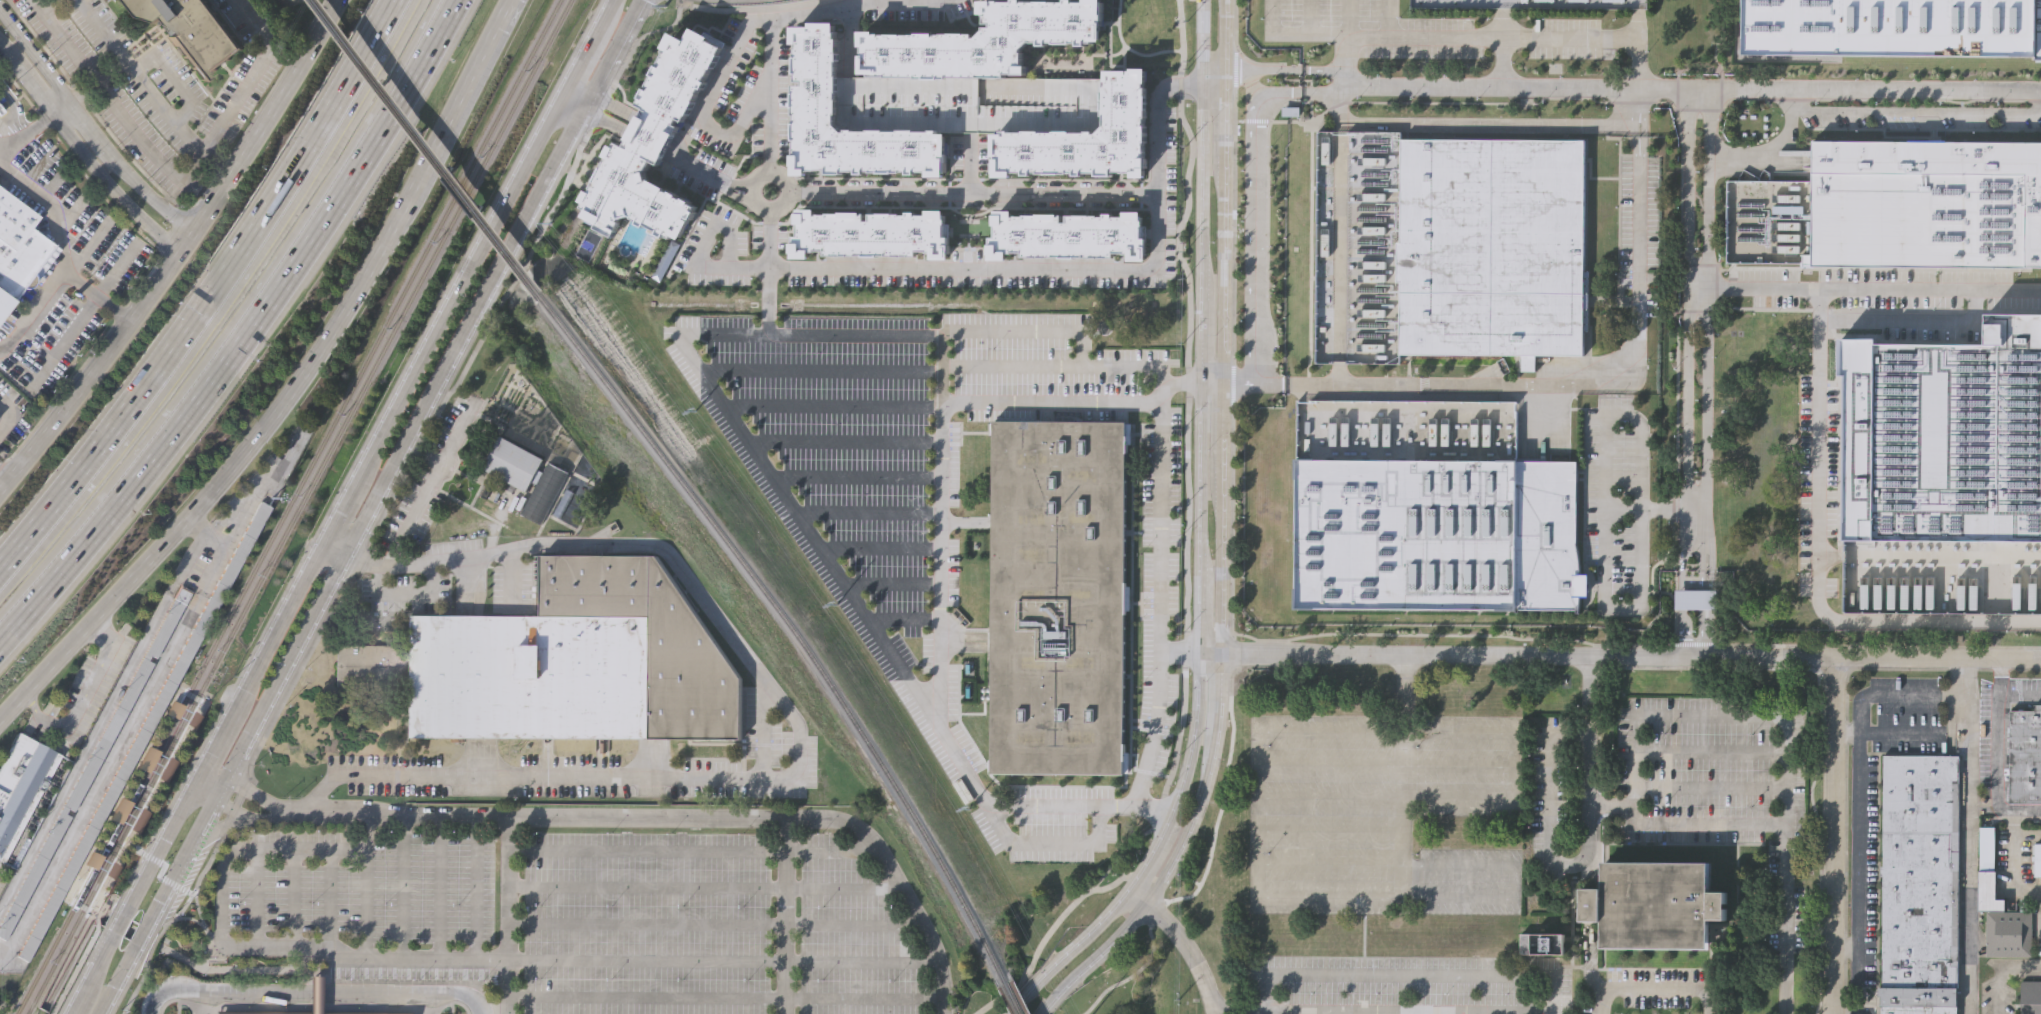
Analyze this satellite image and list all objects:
road: (43, 3)
road: (856, 4)
power substation: (1532, 4)
road: (748, 7)
road: (602, 13)
road: (1349, 18)
road: (1389, 18)
building: (1893, 26)
parking lot: (1372, 29)
building: (195, 30)
road: (1276, 31)
road: (1314, 32)
road: (1519, 38)
parking lot: (1565, 38)
building: (984, 40)
road: (849, 41)
road: (1348, 54)
road: (6, 55)
road: (578, 59)
road: (1502, 62)
road: (1251, 68)
building: (814, 73)
road: (170, 76)
road: (136, 77)
road: (32, 88)
road: (77, 89)
road: (1664, 89)
road: (471, 90)
road: (763, 96)
road: (574, 100)
building: (969, 102)
parking garage: (969, 102)
road: (16, 108)
road: (703, 108)
building: (1291, 108)
road: (56, 109)
road: (612, 111)
road: (1919, 111)
road: (1640, 112)
parking lot: (1919, 116)
street lamp: (1210, 120)
road: (1474, 124)
road: (601, 126)
building: (1088, 129)
road: (653, 133)
road: (25, 134)
road: (1201, 137)
road: (91, 138)
building: (653, 146)
road: (643, 147)
railway: (429, 150)
road: (675, 154)
road: (670, 160)
road: (971, 163)
road: (220, 164)
road: (176, 175)
road: (715, 183)
road: (112, 192)
road: (1249, 192)
road: (1044, 194)
building: (1926, 200)
road: (777, 201)
road: (1680, 203)
parking lot: (1639, 231)
building: (869, 232)
building: (1066, 235)
road: (1639, 240)
street lamp: (1213, 241)
building: (18, 244)
building: (1492, 246)
road: (63, 249)
road: (703, 250)
road: (85, 251)
road: (1339, 253)
road: (185, 259)
road: (996, 268)
road: (116, 271)
road: (1864, 289)
road: (212, 295)
road: (453, 295)
building: (3, 303)
road: (222, 308)
road: (1188, 311)
road: (34, 316)
road: (232, 316)
road: (1912, 323)
road: (1223, 326)
road: (1201, 328)
road: (1706, 330)
road: (1686, 331)
road: (245, 332)
street lamp: (1215, 334)
road: (63, 341)
railway: (377, 356)
road: (1011, 367)
road: (821, 368)
road: (1162, 373)
road: (1212, 381)
road: (1181, 382)
road: (1253, 383)
road: (1467, 386)
road: (430, 393)
road: (832, 404)
road: (1051, 406)
road: (1424, 407)
building: (1288, 410)
road: (7, 415)
railway: (329, 429)
building: (1945, 430)
road: (843, 441)
street lamp: (1208, 449)
parking lot: (892, 454)
road: (1641, 463)
road: (1818, 463)
road: (240, 472)
road: (1201, 474)
building: (528, 476)
road: (855, 476)
road: (4, 482)
parking lot: (1816, 483)
road: (391, 497)
road: (419, 503)
parking lot: (1617, 505)
road: (867, 512)
road: (334, 520)
road: (203, 532)
building: (1438, 532)
road: (941, 533)
road: (1231, 537)
road: (335, 548)
road: (879, 548)
street lamp: (1212, 553)
road: (1929, 556)
road: (222, 563)
road: (837, 579)
road: (890, 582)
road: (1694, 582)
building: (1059, 595)
building: (1698, 597)
building: (1690, 598)
building: (981, 607)
road: (1200, 610)
road: (1705, 613)
road: (1682, 614)
road: (903, 621)
road: (1942, 622)
railway: (789, 628)
road: (273, 634)
road: (1695, 644)
road: (1879, 646)
road: (1185, 650)
road: (1210, 653)
road: (1178, 654)
road: (1631, 654)
building: (566, 660)
road: (2000, 676)
street lamp: (1206, 679)
road: (81, 701)
road: (1718, 717)
building: (191, 720)
road: (794, 720)
building: (144, 729)
road: (1178, 730)
road: (1848, 731)
road: (1194, 732)
road: (1386, 732)
road: (1997, 736)
road: (211, 752)
road: (1711, 752)
building: (2026, 754)
building: (93, 760)
building: (156, 765)
road: (1458, 765)
road: (1512, 765)
road: (1405, 776)
road: (1206, 784)
road: (1858, 786)
road: (1711, 789)
building: (26, 793)
road: (1458, 798)
road: (1043, 806)
road: (1157, 809)
road: (1260, 814)
parking lot: (1379, 814)
road: (629, 817)
road: (1699, 822)
road: (1545, 827)
road: (1835, 835)
road: (2025, 837)
building: (115, 843)
road: (2010, 848)
road: (1156, 849)
road: (693, 851)
road: (187, 854)
road: (1963, 854)
road: (1116, 855)
building: (2038, 858)
railway: (82, 863)
railway: (107, 864)
railway: (105, 875)
railway: (114, 882)
building: (1920, 884)
road: (366, 887)
road: (705, 887)
road: (401, 888)
road: (438, 888)
road: (475, 888)
road: (135, 889)
building: (1988, 890)
road: (1457, 898)
road: (256, 899)
road: (292, 899)
road: (329, 899)
road: (100, 907)
parking lot: (594, 907)
building: (1656, 907)
road: (197, 908)
road: (509, 915)
road: (97, 916)
road: (785, 916)
road: (716, 924)
road: (207, 932)
building: (2009, 932)
road: (2040, 932)
railway: (57, 936)
road: (1045, 938)
road: (1845, 944)
road: (1181, 946)
building: (1543, 946)
road: (1074, 949)
road: (1094, 958)
road: (463, 959)
road: (127, 966)
road: (257, 970)
road: (1408, 970)
road: (74, 971)
road: (2004, 973)
road: (1654, 983)
road: (53, 986)
road: (313, 989)
building: (315, 995)
railway: (1012, 996)
building: (2031, 996)
road: (726, 997)
road: (72, 1008)
road: (1344, 1009)
road: (1267, 1011)
road: (1514, 1011)
road: (1515, 1012)
road: (1844, 1012)
building: (279, 1013)

